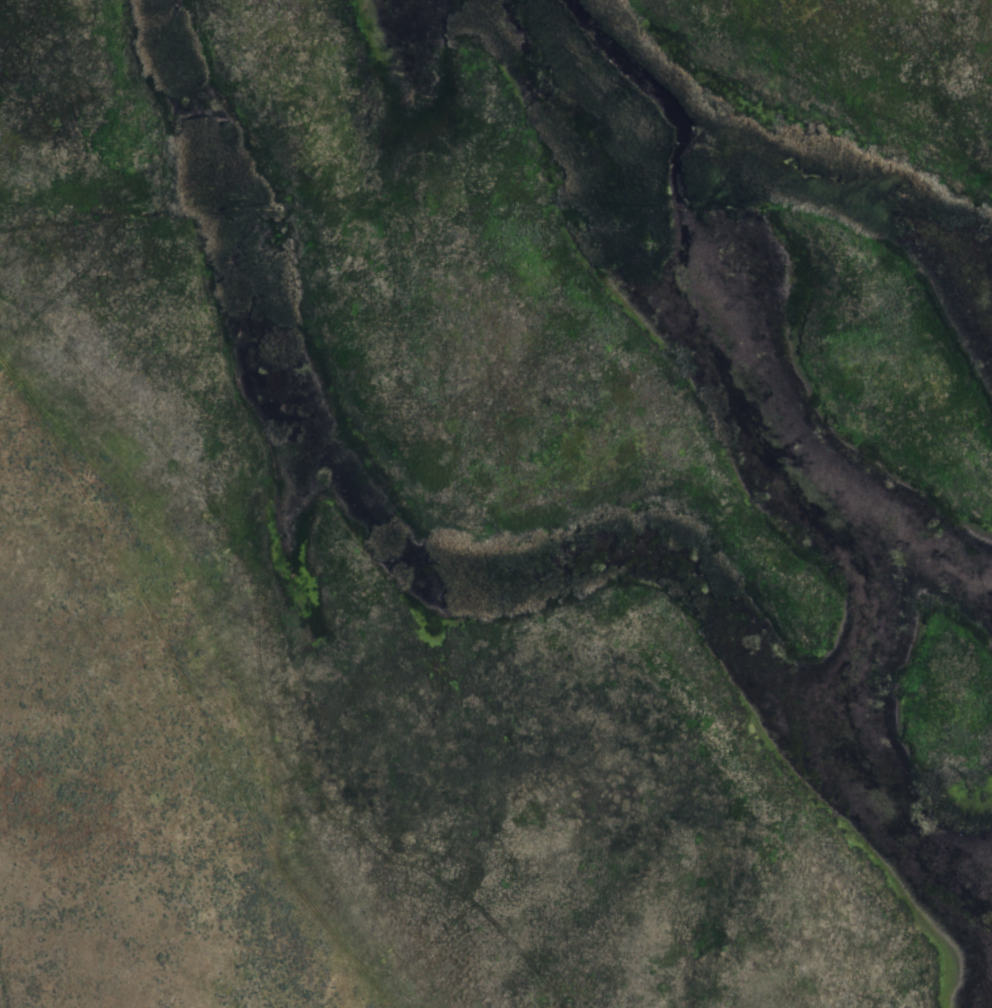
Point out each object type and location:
crop: (496, 504)

